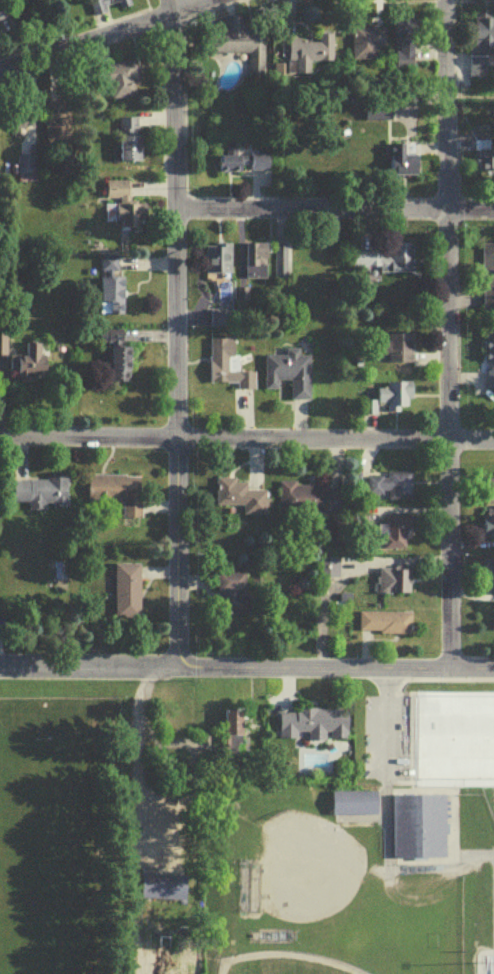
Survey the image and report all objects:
building: (110, 8)
building: (5, 19)
road: (106, 37)
building: (367, 46)
building: (241, 49)
building: (404, 51)
building: (482, 51)
building: (311, 56)
building: (122, 84)
building: (379, 114)
building: (57, 127)
building: (130, 144)
building: (484, 160)
building: (402, 163)
building: (245, 165)
road: (334, 210)
building: (126, 213)
building: (217, 263)
building: (387, 263)
building: (256, 265)
building: (281, 265)
building: (488, 281)
building: (111, 297)
road: (447, 334)
road: (174, 336)
building: (398, 353)
building: (118, 359)
building: (490, 365)
building: (29, 368)
building: (226, 368)
building: (288, 377)
building: (395, 400)
road: (246, 439)
building: (390, 490)
building: (493, 493)
building: (40, 496)
building: (116, 498)
building: (241, 501)
building: (310, 505)
building: (488, 531)
building: (393, 537)
building: (326, 572)
building: (393, 584)
building: (490, 584)
building: (127, 596)
building: (232, 598)
building: (385, 627)
building: (493, 630)
road: (247, 672)
road: (384, 727)
building: (233, 728)
building: (314, 729)
park: (455, 744)
building: (354, 807)
building: (418, 832)
building: (160, 888)
park: (282, 963)

